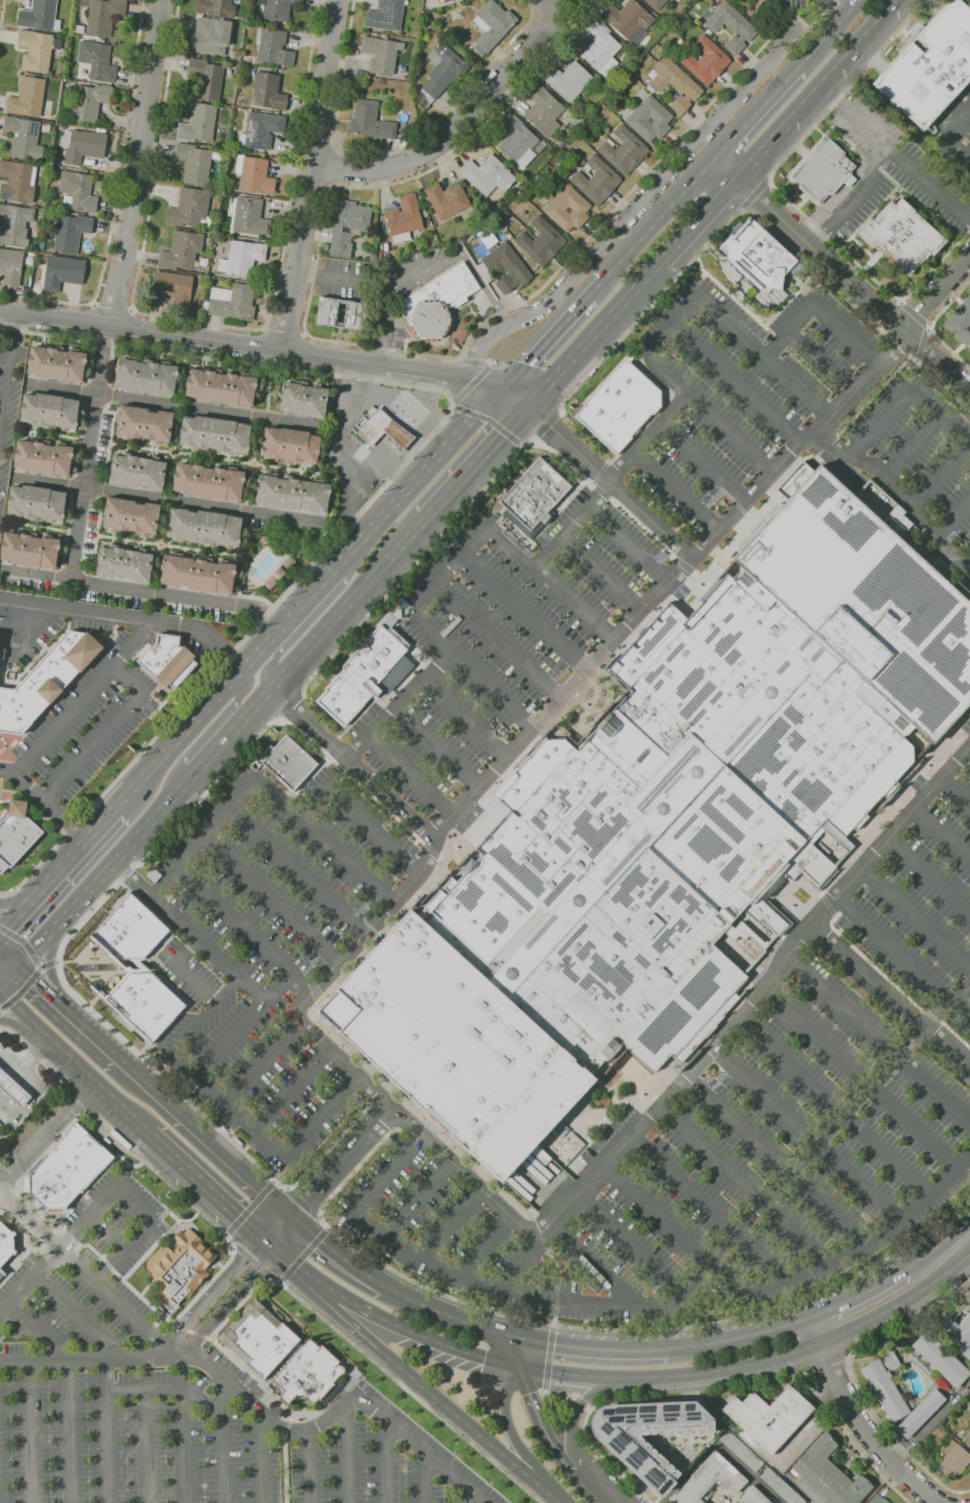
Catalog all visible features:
building: (448, 0)
building: (453, 0)
building: (656, 3)
road: (557, 6)
building: (216, 7)
road: (835, 8)
building: (278, 9)
building: (41, 15)
building: (386, 15)
road: (2, 16)
building: (104, 16)
building: (628, 17)
road: (801, 19)
building: (493, 25)
building: (732, 26)
road: (830, 34)
building: (211, 36)
building: (385, 36)
building: (273, 47)
building: (601, 48)
building: (38, 50)
building: (381, 53)
road: (850, 54)
road: (871, 56)
building: (98, 60)
building: (248, 60)
building: (706, 60)
building: (930, 65)
building: (442, 72)
building: (207, 78)
building: (569, 79)
building: (676, 84)
building: (268, 91)
road: (911, 91)
building: (28, 97)
building: (90, 102)
building: (544, 110)
road: (759, 113)
building: (638, 117)
road: (945, 120)
building: (370, 121)
road: (461, 121)
building: (199, 123)
building: (262, 129)
road: (947, 133)
road: (777, 134)
building: (24, 137)
building: (518, 141)
building: (84, 145)
road: (395, 148)
building: (624, 150)
road: (895, 155)
road: (139, 163)
building: (195, 163)
road: (333, 167)
road: (727, 167)
road: (746, 168)
building: (824, 170)
building: (55, 172)
building: (254, 174)
building: (488, 174)
road: (311, 176)
building: (18, 180)
building: (597, 180)
building: (78, 191)
road: (755, 193)
road: (857, 195)
road: (782, 197)
road: (115, 198)
building: (447, 199)
building: (556, 207)
building: (190, 208)
building: (426, 213)
road: (631, 213)
road: (756, 213)
building: (250, 217)
road: (661, 217)
building: (404, 218)
road: (699, 219)
building: (15, 224)
building: (347, 226)
building: (72, 232)
building: (901, 236)
building: (541, 241)
building: (182, 250)
building: (242, 257)
building: (203, 262)
building: (761, 262)
building: (11, 266)
building: (508, 267)
road: (427, 269)
building: (731, 271)
building: (64, 272)
road: (342, 279)
road: (853, 284)
road: (598, 287)
building: (175, 289)
road: (936, 292)
building: (439, 301)
building: (232, 302)
road: (113, 305)
road: (817, 311)
building: (356, 312)
road: (890, 314)
road: (916, 315)
road: (208, 322)
building: (960, 322)
road: (931, 325)
road: (675, 328)
road: (285, 330)
road: (594, 334)
road: (920, 341)
road: (546, 342)
road: (234, 344)
road: (362, 344)
road: (3, 349)
road: (5, 358)
building: (57, 363)
traffic signals: (528, 363)
road: (819, 363)
building: (147, 375)
traffic signals: (469, 381)
road: (486, 383)
road: (858, 383)
building: (223, 386)
road: (739, 387)
road: (904, 395)
road: (515, 397)
building: (302, 399)
road: (172, 404)
building: (620, 404)
building: (50, 411)
building: (144, 424)
building: (374, 425)
road: (547, 425)
traffic signals: (551, 428)
building: (216, 434)
building: (398, 434)
gas station: (398, 434)
traffic signals: (503, 434)
road: (536, 443)
building: (289, 445)
road: (910, 446)
road: (334, 447)
road: (87, 451)
building: (44, 457)
road: (476, 462)
road: (705, 465)
building: (138, 471)
road: (942, 476)
road: (610, 480)
building: (209, 481)
road: (610, 482)
road: (387, 483)
road: (603, 492)
building: (291, 493)
road: (676, 495)
building: (534, 497)
road: (168, 498)
building: (37, 503)
building: (131, 516)
road: (952, 524)
building: (206, 526)
road: (644, 527)
road: (439, 538)
road: (627, 545)
building: (31, 549)
building: (124, 563)
road: (685, 565)
road: (965, 569)
road: (446, 571)
building: (197, 572)
road: (601, 575)
road: (144, 591)
road: (309, 597)
road: (523, 613)
road: (129, 616)
road: (306, 624)
road: (496, 641)
road: (135, 644)
building: (168, 660)
building: (366, 674)
building: (46, 680)
parking lot: (506, 685)
road: (303, 692)
road: (291, 705)
road: (281, 720)
road: (463, 720)
road: (64, 721)
road: (211, 731)
road: (373, 733)
road: (104, 735)
parking lot: (89, 737)
road: (222, 742)
road: (437, 748)
road: (968, 755)
building: (287, 762)
road: (353, 763)
road: (346, 772)
road: (410, 777)
road: (308, 780)
road: (956, 794)
road: (45, 800)
road: (389, 812)
building: (668, 828)
road: (373, 833)
building: (16, 834)
road: (943, 834)
road: (198, 842)
road: (433, 849)
road: (57, 870)
road: (298, 870)
road: (930, 875)
road: (26, 895)
road: (271, 900)
road: (916, 919)
building: (131, 927)
road: (242, 932)
road: (70, 935)
road: (25, 942)
road: (10, 957)
road: (902, 961)
road: (51, 962)
road: (43, 965)
traffic signals: (20, 966)
road: (191, 970)
road: (10, 976)
road: (37, 980)
traffic signals: (0, 987)
road: (24, 989)
road: (959, 996)
road: (890, 1000)
building: (145, 1003)
road: (839, 1007)
road: (21, 1008)
road: (297, 1008)
road: (0, 1009)
road: (0, 1010)
road: (21, 1022)
road: (90, 1029)
road: (229, 1041)
road: (43, 1061)
road: (262, 1064)
road: (89, 1073)
road: (861, 1077)
road: (151, 1085)
building: (13, 1088)
road: (932, 1090)
road: (292, 1092)
road: (229, 1109)
road: (834, 1109)
road: (143, 1125)
road: (48, 1131)
parking lot: (748, 1133)
road: (804, 1135)
road: (220, 1149)
road: (338, 1161)
road: (772, 1163)
building: (67, 1169)
road: (1, 1178)
road: (207, 1186)
road: (741, 1186)
building: (833, 1199)
traffic signals: (304, 1201)
road: (279, 1202)
road: (415, 1202)
road: (131, 1204)
road: (194, 1206)
road: (250, 1208)
traffic signals: (232, 1209)
road: (706, 1209)
building: (809, 1218)
road: (446, 1226)
road: (670, 1230)
road: (106, 1235)
traffic signals: (322, 1241)
road: (625, 1242)
road: (864, 1243)
building: (7, 1244)
road: (938, 1246)
road: (480, 1248)
road: (234, 1249)
road: (337, 1253)
road: (304, 1255)
road: (288, 1260)
road: (253, 1261)
road: (509, 1266)
building: (180, 1268)
road: (598, 1270)
traffic signals: (260, 1271)
road: (89, 1274)
road: (29, 1278)
road: (226, 1278)
road: (271, 1279)
road: (243, 1289)
road: (860, 1295)
road: (787, 1303)
building: (968, 1306)
road: (555, 1314)
road: (651, 1315)
road: (72, 1316)
road: (461, 1320)
road: (407, 1328)
road: (637, 1330)
road: (191, 1331)
road: (34, 1334)
building: (958, 1334)
traffic signals: (510, 1336)
road: (740, 1337)
building: (259, 1338)
traffic signals: (539, 1343)
road: (603, 1349)
road: (550, 1356)
road: (372, 1360)
road: (90, 1362)
road: (750, 1363)
traffic signals: (506, 1364)
road: (832, 1366)
traffic signals: (534, 1369)
building: (309, 1375)
road: (857, 1382)
building: (880, 1383)
road: (422, 1384)
road: (722, 1392)
road: (560, 1393)
parking lot: (170, 1395)
road: (219, 1397)
road: (582, 1402)
road: (205, 1405)
road: (589, 1409)
road: (537, 1411)
road: (506, 1412)
road: (576, 1415)
road: (335, 1416)
building: (769, 1417)
road: (859, 1419)
road: (931, 1424)
road: (286, 1428)
road: (106, 1432)
road: (29, 1433)
road: (65, 1433)
building: (967, 1439)
road: (718, 1446)
road: (142, 1447)
road: (180, 1448)
building: (740, 1450)
building: (637, 1455)
road: (343, 1457)
building: (953, 1459)
road: (263, 1461)
road: (386, 1462)
road: (307, 1467)
road: (284, 1469)
building: (829, 1473)
road: (424, 1478)
building: (709, 1480)
road: (589, 1487)
building: (781, 1487)
road: (550, 1492)
road: (464, 1494)
building: (754, 1496)
building: (878, 1499)

